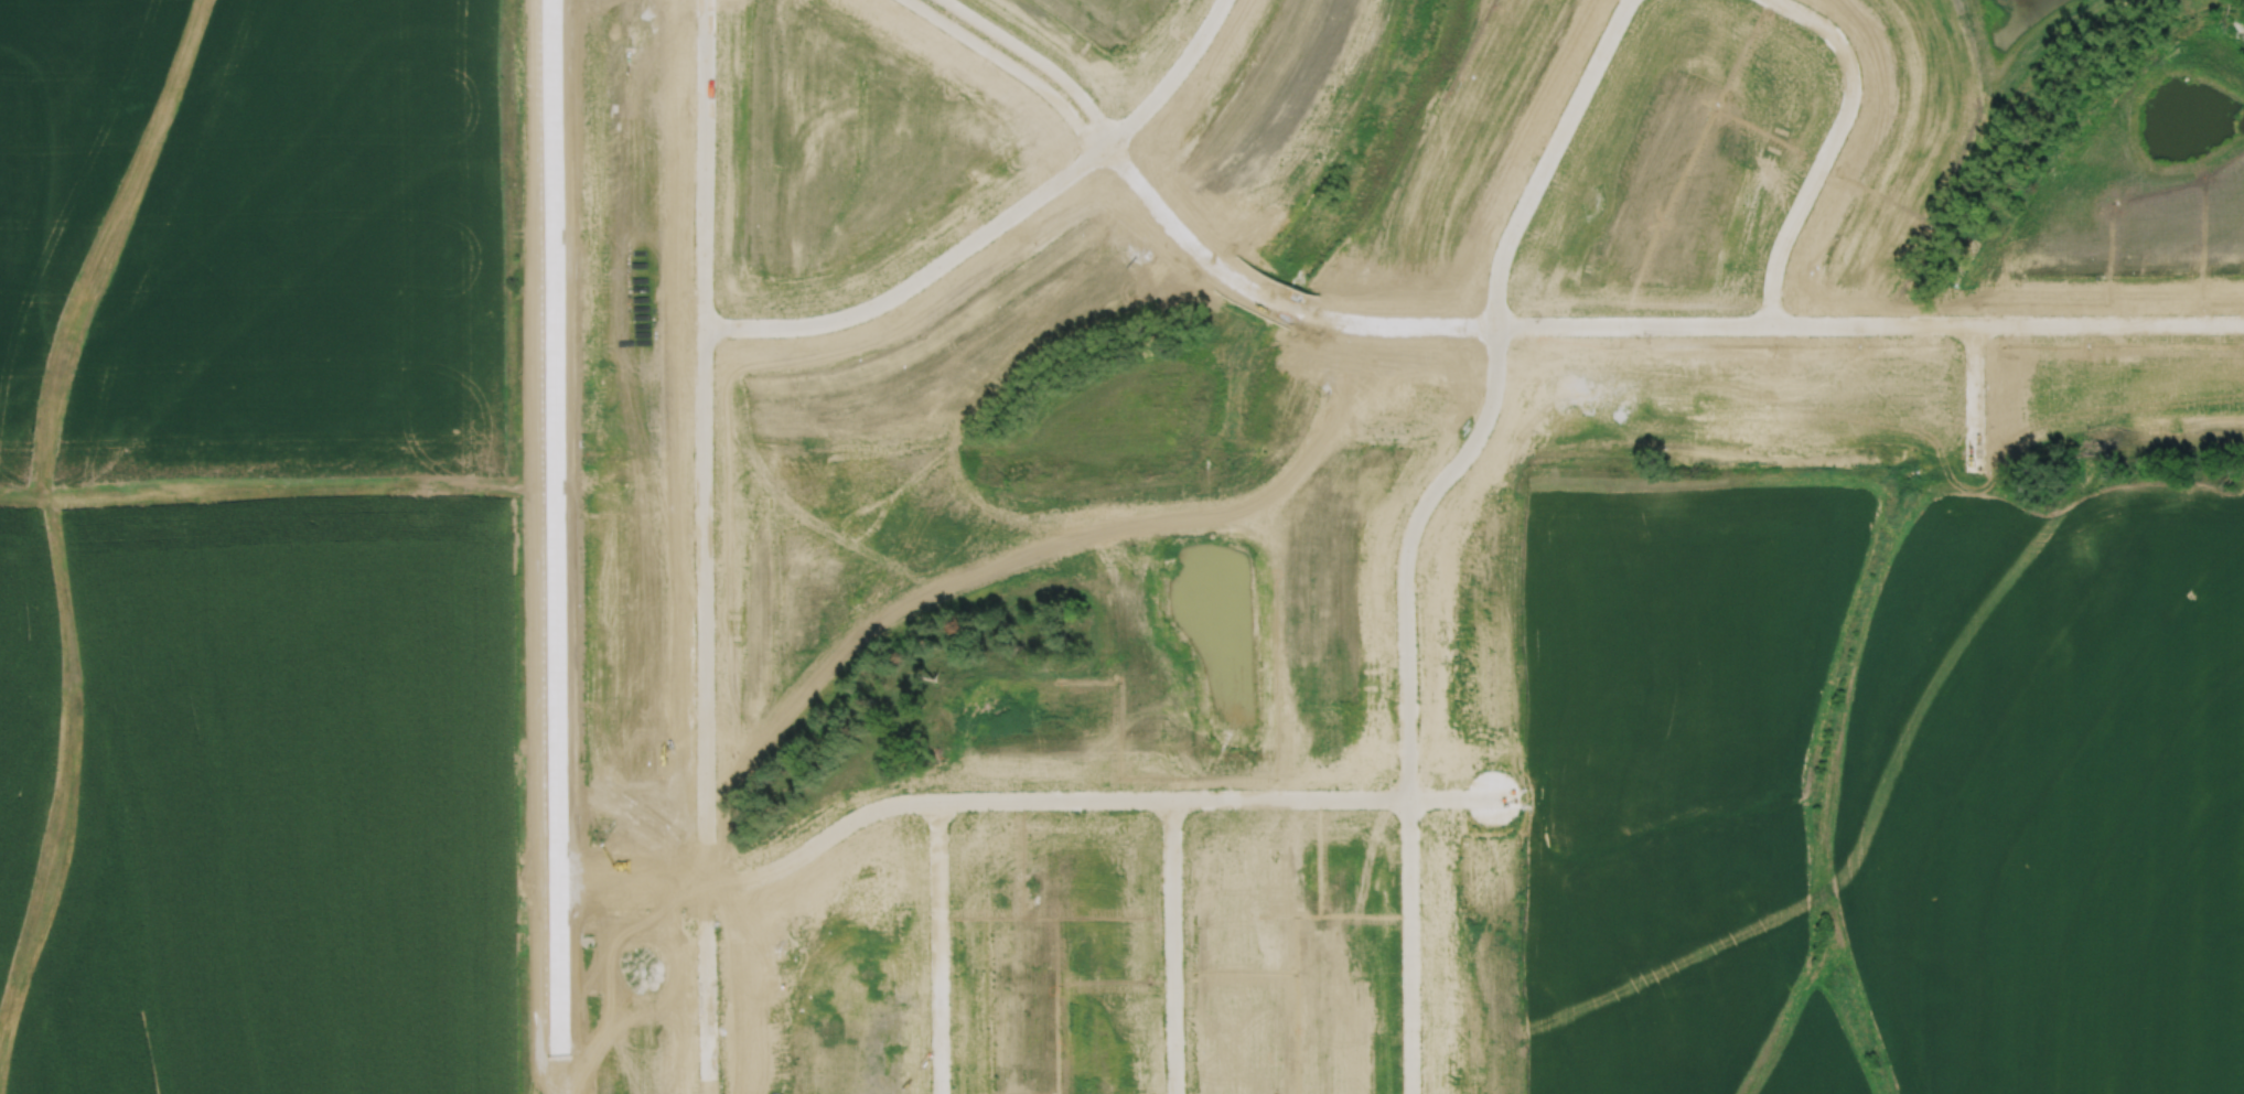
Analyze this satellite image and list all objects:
road: (1035, 58)
road: (1010, 64)
road: (1170, 77)
road: (1828, 147)
crop: (260, 245)
road: (917, 270)
road: (1641, 323)
road: (1975, 397)
road: (704, 437)
road: (1415, 521)
road: (554, 547)
crop: (1885, 780)
crop: (267, 791)
road: (1087, 797)
building: (829, 812)
building: (937, 826)
building: (894, 835)
building: (815, 845)
road: (633, 861)
road: (632, 884)
road: (1172, 945)
road: (937, 946)
road: (708, 984)
building: (863, 984)

